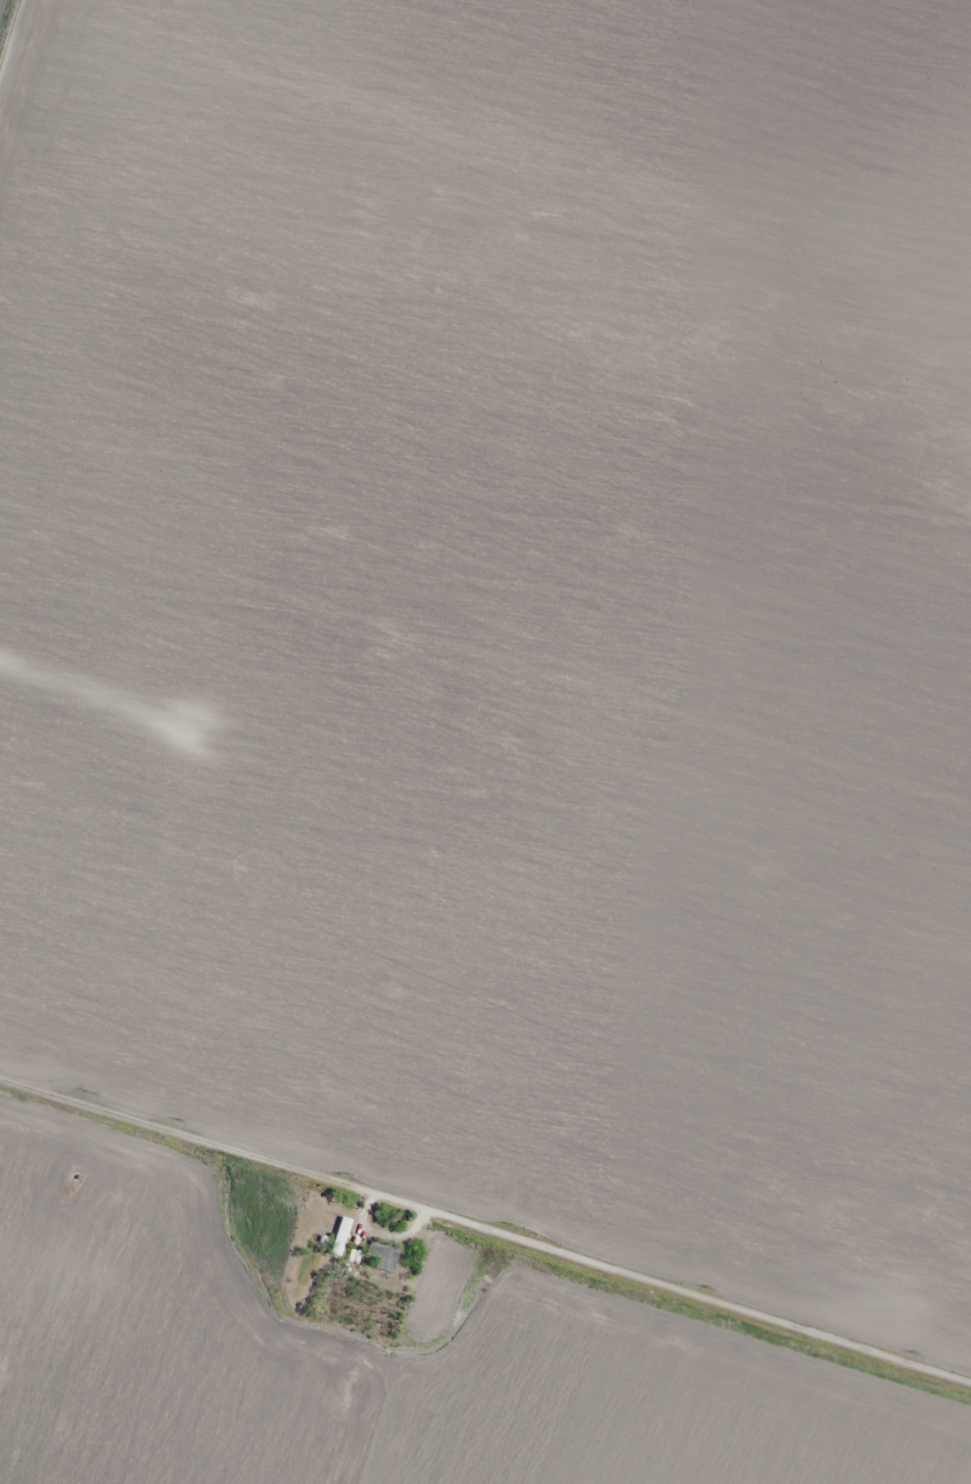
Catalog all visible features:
road: (485, 1226)

